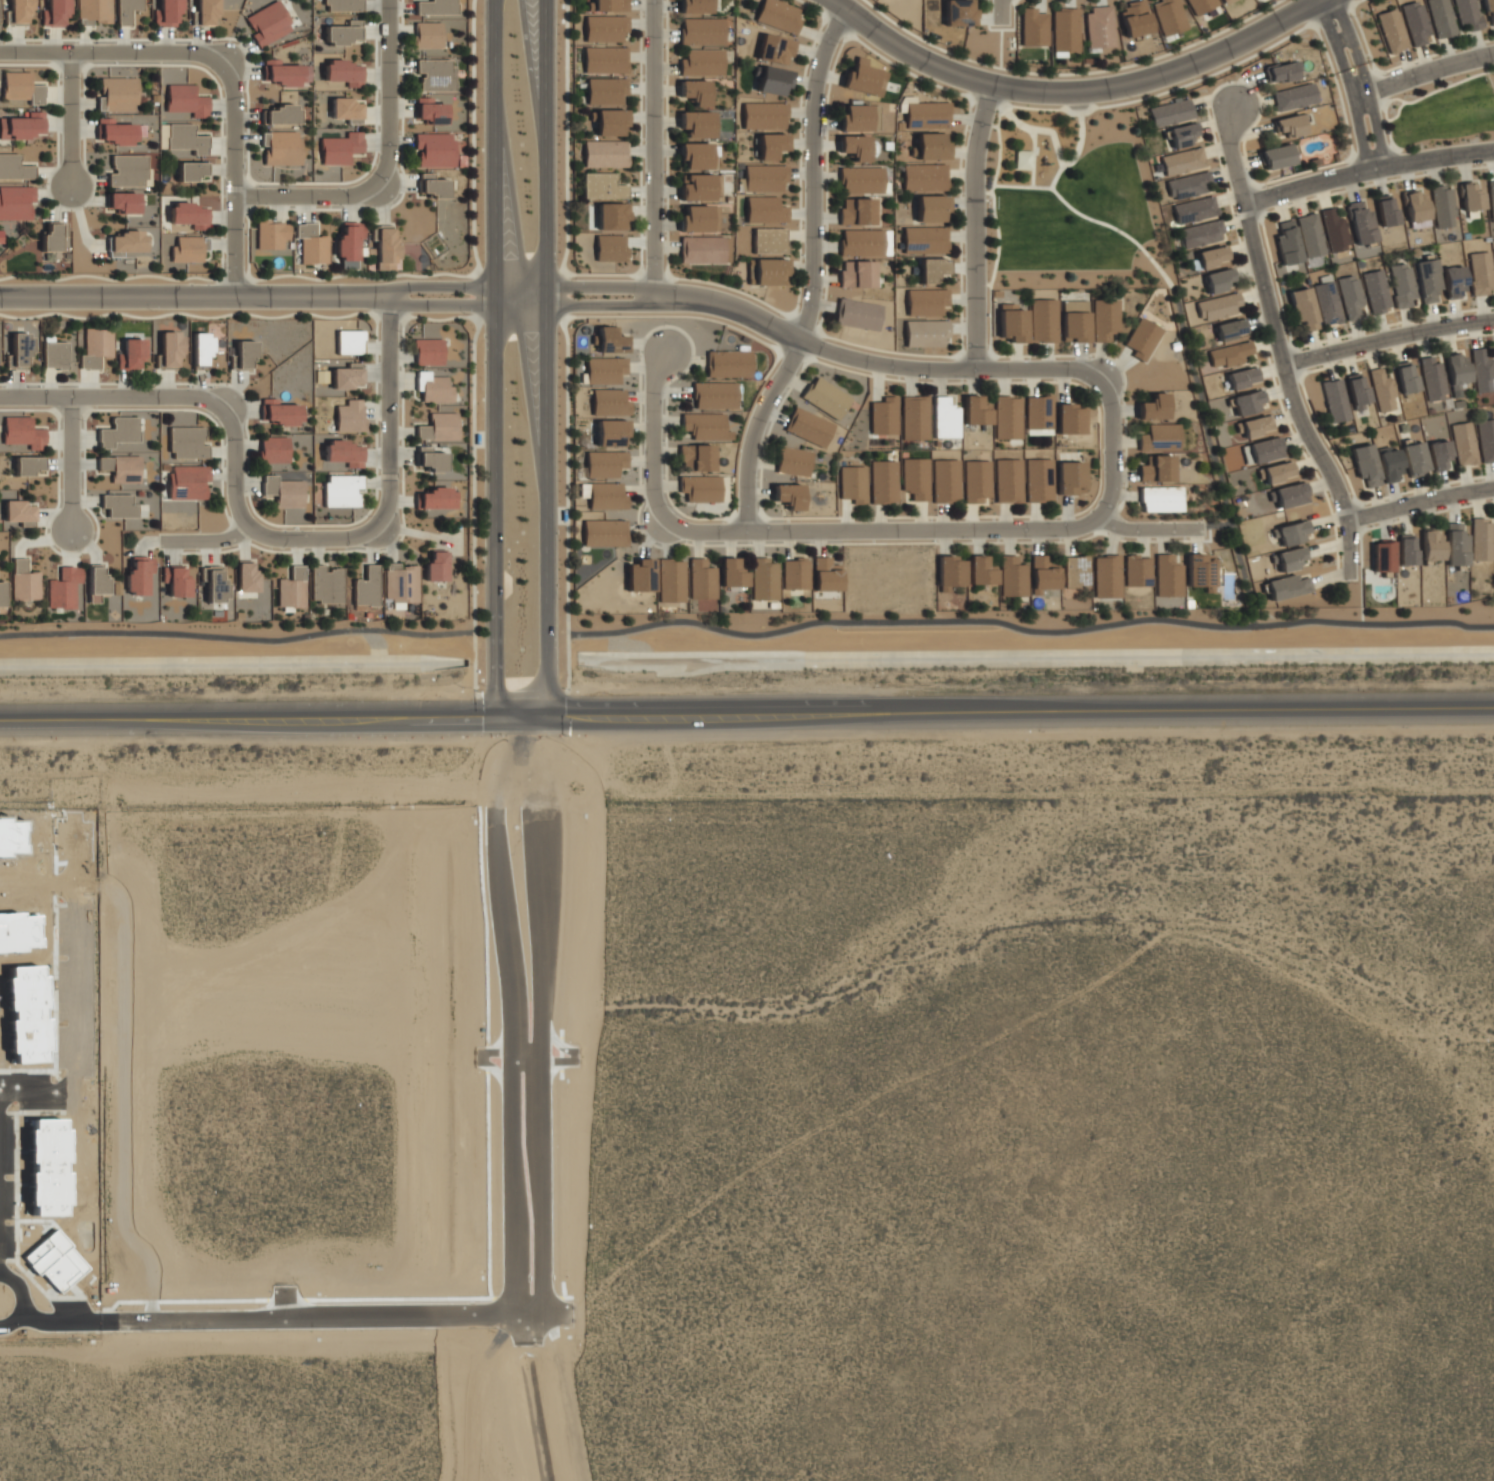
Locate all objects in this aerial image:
building: (1225, 1)
building: (343, 5)
building: (609, 5)
building: (1200, 5)
building: (695, 6)
building: (435, 7)
building: (1489, 9)
building: (126, 10)
road: (1001, 10)
building: (19, 11)
building: (93, 11)
building: (206, 11)
building: (55, 12)
building: (959, 12)
building: (166, 13)
building: (1468, 13)
building: (778, 15)
building: (1168, 16)
building: (1134, 18)
building: (1441, 18)
building: (1415, 22)
building: (268, 23)
road: (838, 24)
building: (1098, 26)
building: (1033, 27)
building: (604, 28)
building: (1065, 29)
building: (1392, 30)
building: (701, 31)
building: (343, 32)
building: (427, 34)
road: (1319, 34)
building: (775, 49)
road: (114, 52)
building: (605, 60)
building: (701, 62)
building: (345, 72)
building: (1283, 72)
building: (285, 73)
road: (1422, 73)
building: (434, 74)
building: (864, 77)
road: (1364, 79)
road: (1001, 80)
building: (773, 81)
road: (1348, 84)
building: (21, 87)
building: (605, 90)
building: (695, 91)
road: (1072, 92)
road: (385, 93)
building: (117, 94)
building: (1294, 97)
building: (186, 100)
building: (430, 110)
building: (1170, 112)
building: (281, 114)
building: (763, 115)
building: (927, 115)
road: (69, 117)
building: (857, 118)
building: (610, 122)
building: (696, 123)
building: (23, 125)
building: (1290, 125)
building: (115, 131)
building: (185, 138)
building: (931, 145)
building: (770, 146)
building: (854, 146)
building: (280, 148)
building: (341, 148)
road: (654, 148)
road: (1058, 148)
building: (434, 149)
building: (605, 153)
building: (695, 155)
road: (1033, 156)
building: (1276, 156)
building: (1022, 159)
building: (1182, 161)
building: (14, 167)
building: (127, 170)
road: (1367, 170)
building: (190, 171)
building: (764, 177)
building: (924, 177)
building: (860, 179)
road: (233, 180)
road: (1022, 184)
building: (1188, 185)
building: (433, 186)
building: (602, 186)
building: (700, 187)
road: (983, 192)
building: (1470, 195)
road: (307, 196)
road: (1252, 197)
building: (1491, 199)
building: (16, 202)
building: (122, 202)
building: (1414, 205)
building: (1442, 206)
building: (931, 208)
building: (765, 209)
building: (1194, 209)
building: (1386, 210)
building: (856, 211)
building: (189, 214)
road: (1249, 214)
building: (611, 215)
building: (699, 218)
road: (1105, 223)
building: (1361, 223)
road: (976, 226)
building: (1334, 231)
building: (1202, 233)
building: (271, 234)
building: (1310, 234)
building: (52, 236)
park: (1094, 236)
building: (925, 239)
building: (768, 240)
building: (124, 242)
building: (861, 242)
building: (349, 243)
building: (1287, 243)
building: (311, 244)
building: (610, 247)
building: (385, 248)
building: (187, 249)
building: (701, 249)
building: (1213, 255)
building: (931, 269)
building: (770, 271)
building: (1481, 272)
road: (814, 273)
road: (654, 274)
road: (601, 275)
building: (1218, 280)
building: (1428, 280)
building: (1454, 282)
building: (1402, 284)
building: (1376, 291)
road: (563, 295)
road: (246, 297)
building: (1351, 298)
road: (759, 299)
building: (926, 301)
building: (1327, 301)
building: (1218, 306)
building: (1303, 308)
building: (857, 314)
building: (1105, 319)
building: (1043, 320)
building: (1074, 320)
building: (1012, 323)
building: (1230, 329)
road: (399, 332)
building: (925, 333)
building: (1142, 338)
road: (1386, 338)
road: (798, 339)
building: (610, 340)
building: (349, 341)
road: (780, 346)
road: (1277, 346)
building: (95, 347)
building: (170, 350)
building: (18, 351)
building: (201, 351)
building: (427, 351)
building: (54, 353)
building: (1229, 354)
building: (131, 355)
road: (935, 355)
road: (976, 355)
building: (243, 356)
road: (546, 357)
road: (491, 358)
building: (727, 363)
road: (526, 369)
building: (604, 369)
building: (1482, 369)
building: (1456, 370)
building: (347, 376)
building: (1405, 376)
building: (1243, 377)
building: (1431, 377)
building: (433, 387)
road: (1088, 389)
building: (1381, 389)
building: (1356, 390)
building: (714, 395)
road: (113, 396)
building: (825, 397)
building: (1334, 400)
building: (1248, 401)
building: (609, 402)
road: (665, 407)
building: (1153, 407)
building: (975, 410)
building: (279, 412)
road: (387, 414)
building: (1038, 414)
building: (350, 416)
building: (883, 416)
building: (914, 417)
building: (1007, 417)
building: (944, 418)
building: (1068, 419)
building: (1256, 425)
building: (705, 426)
building: (439, 427)
building: (808, 427)
building: (23, 432)
building: (118, 432)
building: (611, 432)
road: (654, 435)
building: (1159, 438)
building: (1486, 439)
building: (187, 442)
building: (1464, 443)
building: (273, 449)
road: (1113, 449)
building: (1262, 450)
building: (344, 453)
building: (1439, 455)
road: (1213, 456)
building: (696, 457)
building: (1414, 458)
building: (430, 459)
building: (792, 461)
road: (69, 463)
building: (604, 463)
building: (1365, 464)
building: (1390, 464)
building: (27, 465)
road: (234, 465)
building: (120, 468)
building: (1156, 469)
building: (1278, 471)
building: (1069, 477)
building: (915, 478)
building: (1038, 479)
building: (945, 480)
building: (976, 480)
building: (1008, 480)
building: (188, 481)
building: (883, 481)
building: (853, 483)
building: (699, 488)
building: (342, 490)
building: (283, 491)
building: (788, 495)
building: (1290, 495)
building: (606, 496)
building: (435, 498)
building: (1160, 499)
road: (1420, 502)
building: (118, 505)
building: (19, 512)
road: (747, 515)
road: (934, 529)
building: (604, 532)
building: (1294, 532)
road: (267, 535)
building: (1481, 538)
building: (1431, 545)
building: (1455, 545)
building: (1406, 549)
building: (1382, 555)
building: (1290, 558)
building: (436, 566)
building: (1137, 570)
building: (980, 571)
building: (1075, 571)
building: (1200, 571)
building: (950, 572)
building: (731, 573)
building: (794, 573)
building: (825, 574)
building: (1042, 574)
building: (138, 575)
building: (640, 575)
building: (1167, 575)
building: (246, 576)
building: (1011, 576)
building: (1106, 576)
building: (763, 578)
building: (700, 579)
building: (176, 580)
building: (670, 580)
building: (24, 581)
building: (213, 582)
building: (96, 583)
building: (400, 583)
building: (325, 584)
building: (1288, 586)
building: (63, 587)
building: (366, 587)
building: (292, 588)
road: (1029, 630)
road: (236, 639)
road: (521, 693)
road: (1019, 711)
traffic signals: (545, 714)
road: (520, 715)
road: (247, 716)
traffic signals: (495, 716)
road: (515, 1016)
road: (545, 1016)
road: (532, 1060)
road: (21, 1291)
road: (330, 1321)
road: (66, 1325)
road: (14, 1326)

